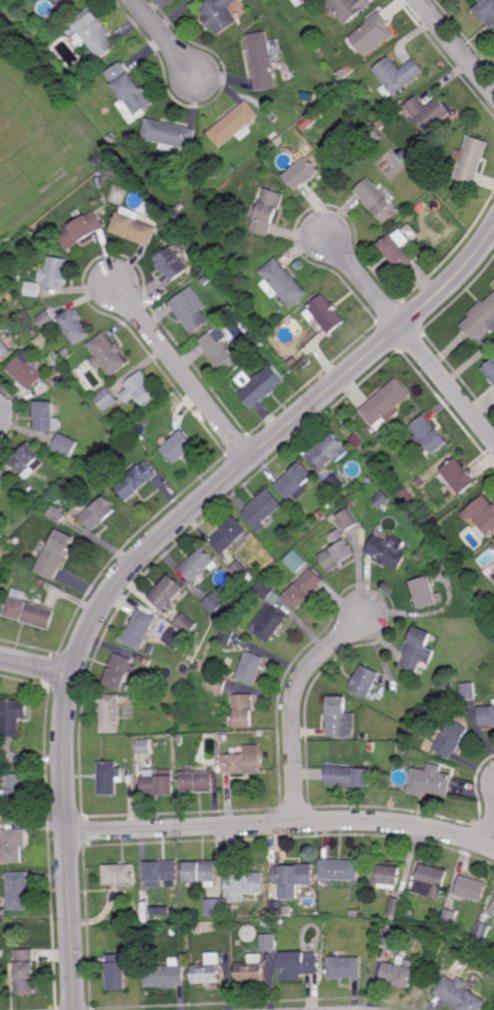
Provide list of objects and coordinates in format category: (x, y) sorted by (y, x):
building: (300, 2)
building: (60, 5)
building: (348, 8)
building: (486, 11)
building: (219, 14)
building: (93, 32)
building: (372, 34)
road: (165, 40)
road: (455, 47)
building: (264, 60)
building: (345, 73)
building: (399, 73)
building: (84, 74)
building: (287, 74)
building: (349, 87)
building: (128, 92)
building: (429, 113)
building: (308, 122)
building: (234, 123)
building: (382, 124)
building: (169, 135)
building: (274, 135)
building: (109, 138)
building: (471, 160)
building: (107, 173)
building: (302, 173)
building: (435, 181)
building: (42, 184)
building: (378, 200)
building: (266, 212)
building: (173, 215)
building: (133, 227)
building: (81, 230)
building: (427, 238)
building: (399, 250)
building: (172, 264)
building: (56, 273)
building: (237, 274)
building: (206, 280)
road: (364, 282)
building: (282, 283)
building: (34, 289)
building: (1, 309)
building: (191, 310)
building: (325, 313)
building: (47, 319)
building: (480, 319)
building: (75, 326)
building: (33, 330)
building: (262, 343)
building: (4, 349)
building: (220, 350)
building: (65, 353)
building: (108, 355)
building: (293, 362)
building: (490, 369)
building: (27, 372)
road: (183, 373)
road: (448, 384)
building: (263, 387)
building: (140, 390)
building: (107, 399)
building: (385, 405)
building: (47, 417)
building: (428, 435)
building: (67, 445)
building: (179, 447)
building: (364, 450)
building: (330, 452)
building: (374, 462)
building: (28, 465)
building: (3, 478)
building: (459, 478)
building: (137, 481)
building: (296, 482)
building: (339, 483)
building: (0, 491)
building: (382, 499)
building: (411, 502)
building: (262, 509)
building: (384, 509)
building: (99, 513)
building: (58, 514)
building: (481, 514)
building: (321, 515)
building: (331, 519)
building: (348, 519)
building: (5, 528)
building: (231, 534)
building: (15, 541)
building: (445, 547)
building: (389, 548)
building: (337, 551)
road: (143, 552)
building: (55, 554)
building: (297, 561)
building: (198, 565)
building: (240, 570)
building: (0, 585)
building: (304, 587)
building: (427, 591)
building: (168, 593)
building: (0, 595)
building: (483, 595)
building: (213, 603)
building: (29, 611)
building: (268, 612)
building: (185, 623)
building: (138, 629)
building: (224, 635)
building: (174, 638)
building: (420, 649)
building: (156, 653)
building: (147, 661)
road: (35, 667)
building: (250, 667)
building: (120, 671)
building: (366, 681)
building: (215, 684)
building: (469, 691)
building: (450, 698)
road: (293, 705)
building: (165, 711)
building: (242, 711)
building: (112, 712)
building: (487, 715)
building: (14, 716)
building: (340, 718)
building: (256, 733)
building: (221, 737)
building: (366, 737)
building: (452, 738)
building: (179, 739)
building: (143, 746)
building: (372, 746)
building: (241, 763)
building: (351, 776)
building: (110, 778)
building: (195, 781)
building: (431, 781)
building: (158, 783)
building: (15, 791)
road: (282, 824)
road: (489, 832)
building: (14, 847)
building: (1, 860)
building: (341, 870)
building: (161, 873)
building: (201, 873)
building: (119, 874)
building: (388, 874)
building: (294, 875)
building: (431, 881)
building: (244, 885)
building: (470, 889)
building: (18, 891)
building: (134, 906)
building: (215, 908)
building: (397, 908)
building: (161, 910)
building: (492, 910)
building: (3, 911)
building: (231, 911)
building: (355, 913)
building: (409, 915)
building: (450, 919)
building: (282, 923)
building: (194, 928)
building: (174, 931)
building: (482, 932)
building: (27, 934)
building: (390, 937)
building: (269, 943)
building: (1, 953)
building: (145, 956)
building: (298, 965)
building: (345, 969)
building: (429, 969)
building: (252, 970)
building: (208, 971)
building: (25, 972)
building: (116, 973)
building: (400, 973)
building: (165, 975)
building: (459, 995)

